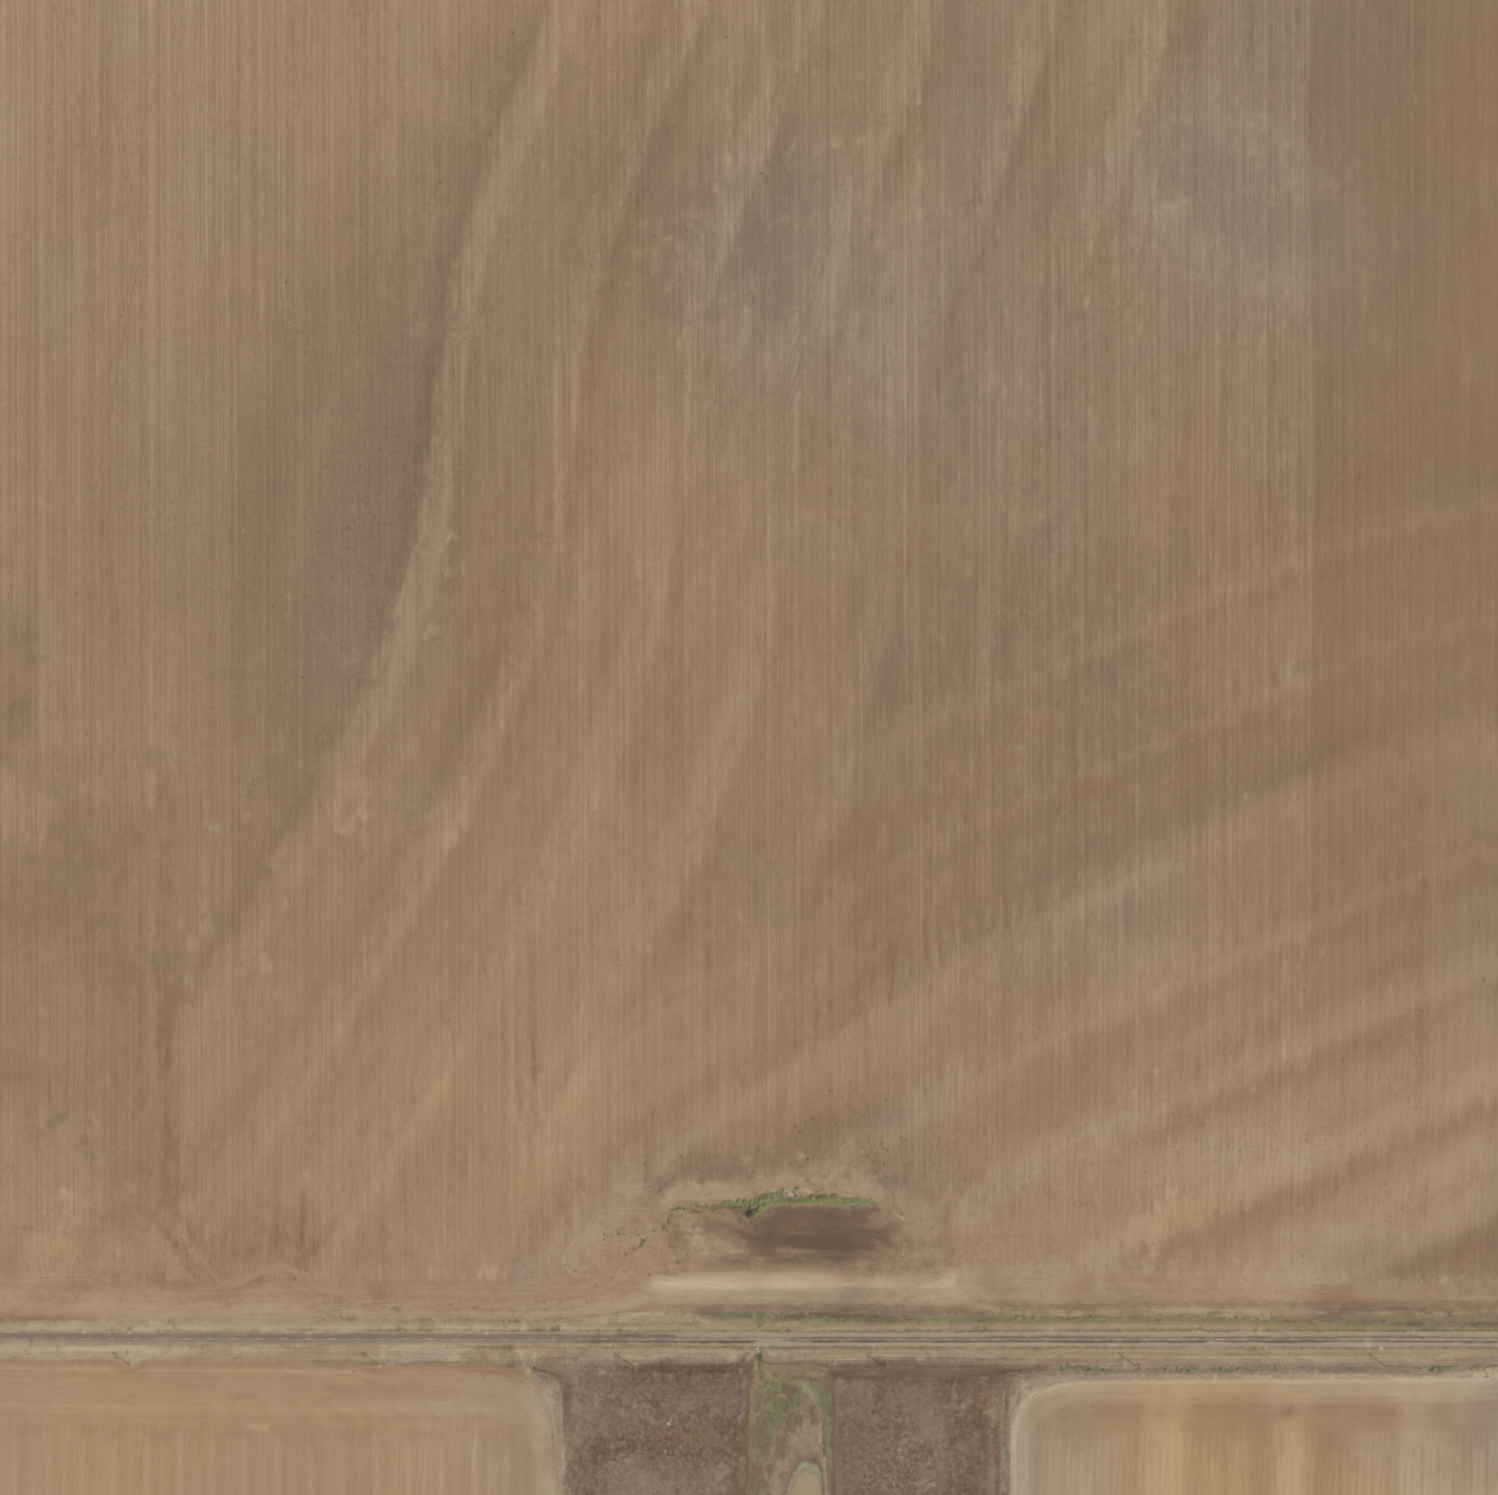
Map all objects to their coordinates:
road: (749, 1346)

